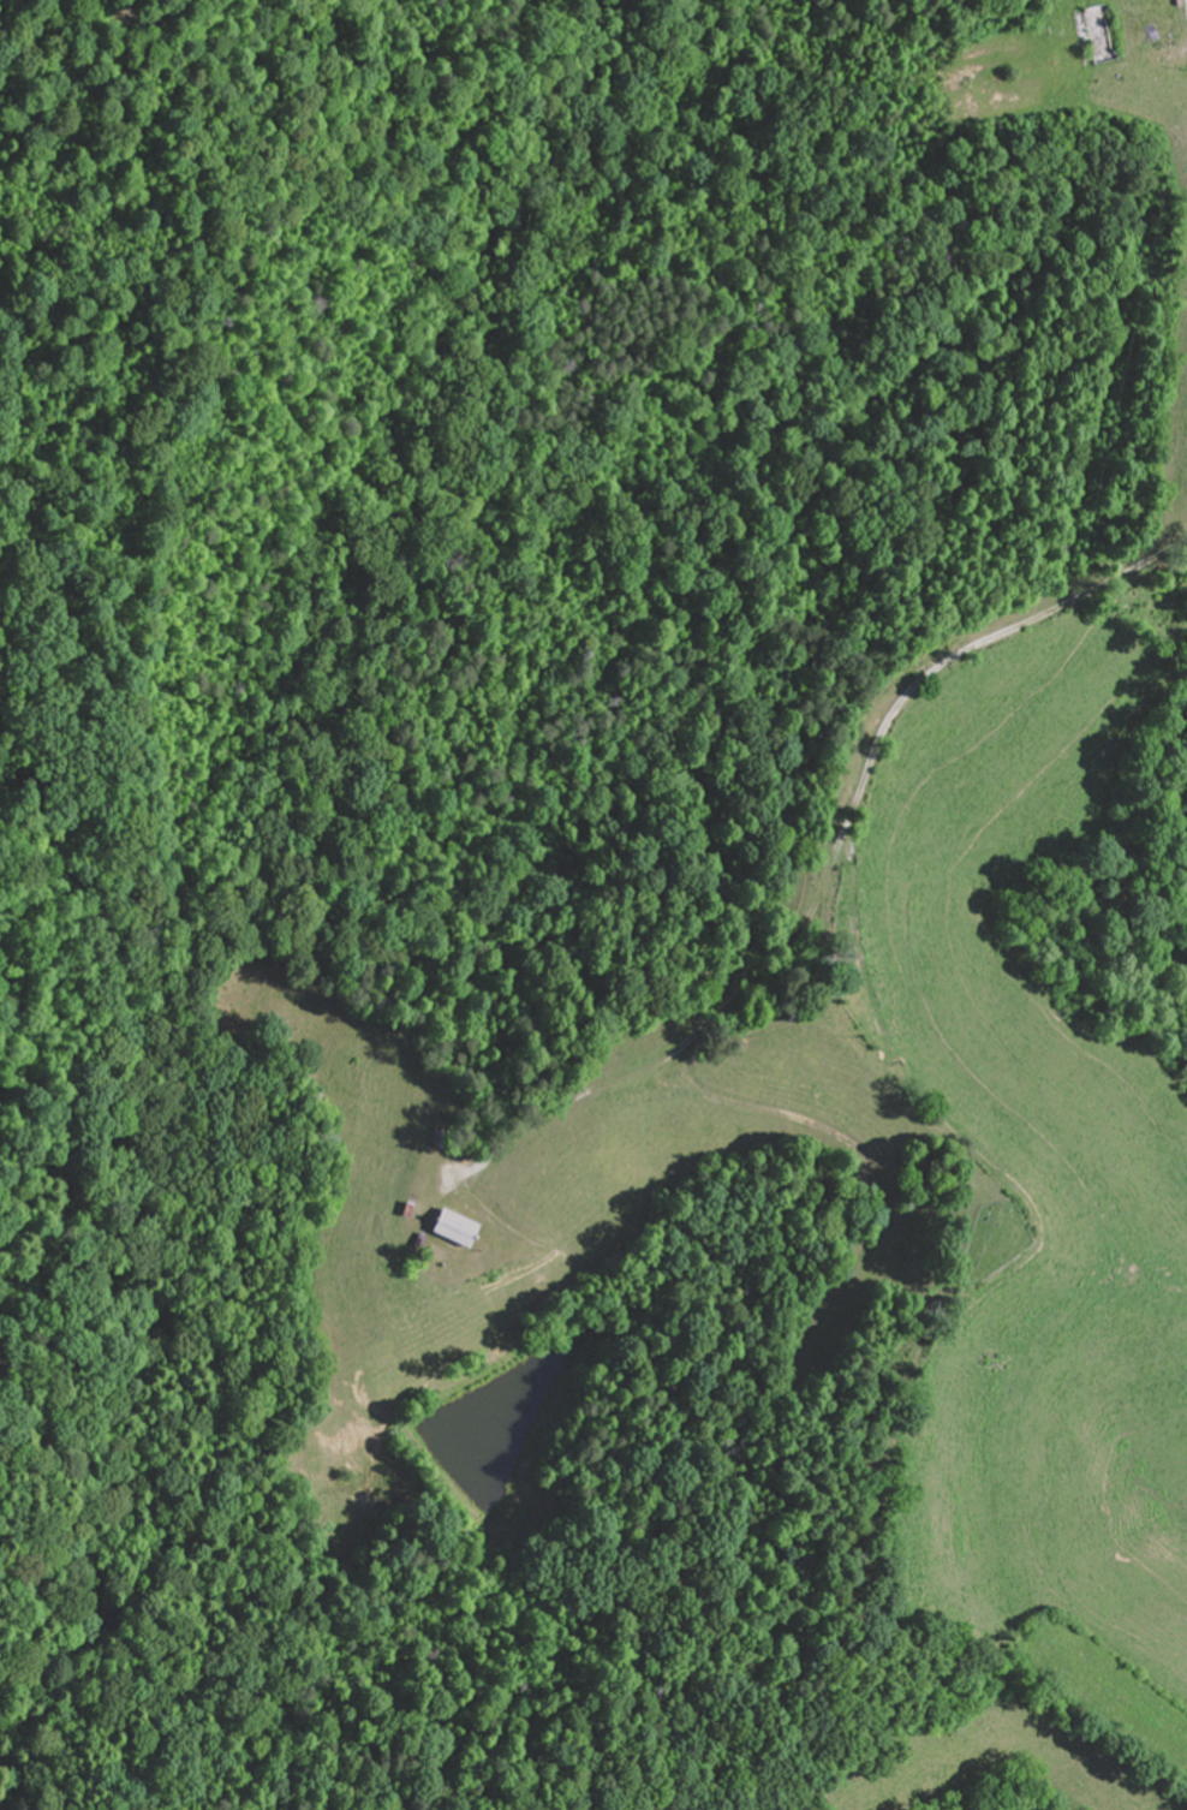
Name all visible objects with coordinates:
building: (1098, 35)
road: (829, 875)
building: (451, 1228)

